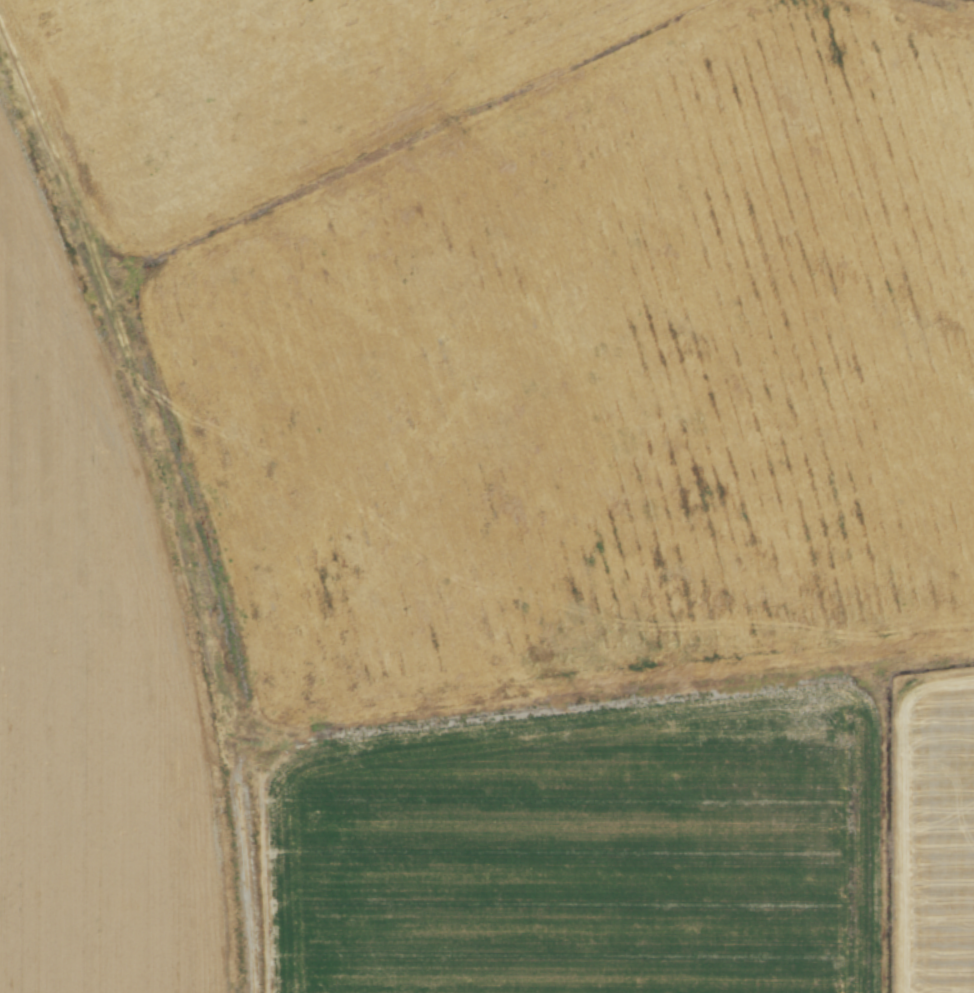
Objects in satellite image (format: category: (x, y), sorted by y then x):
crop: (550, 330)

